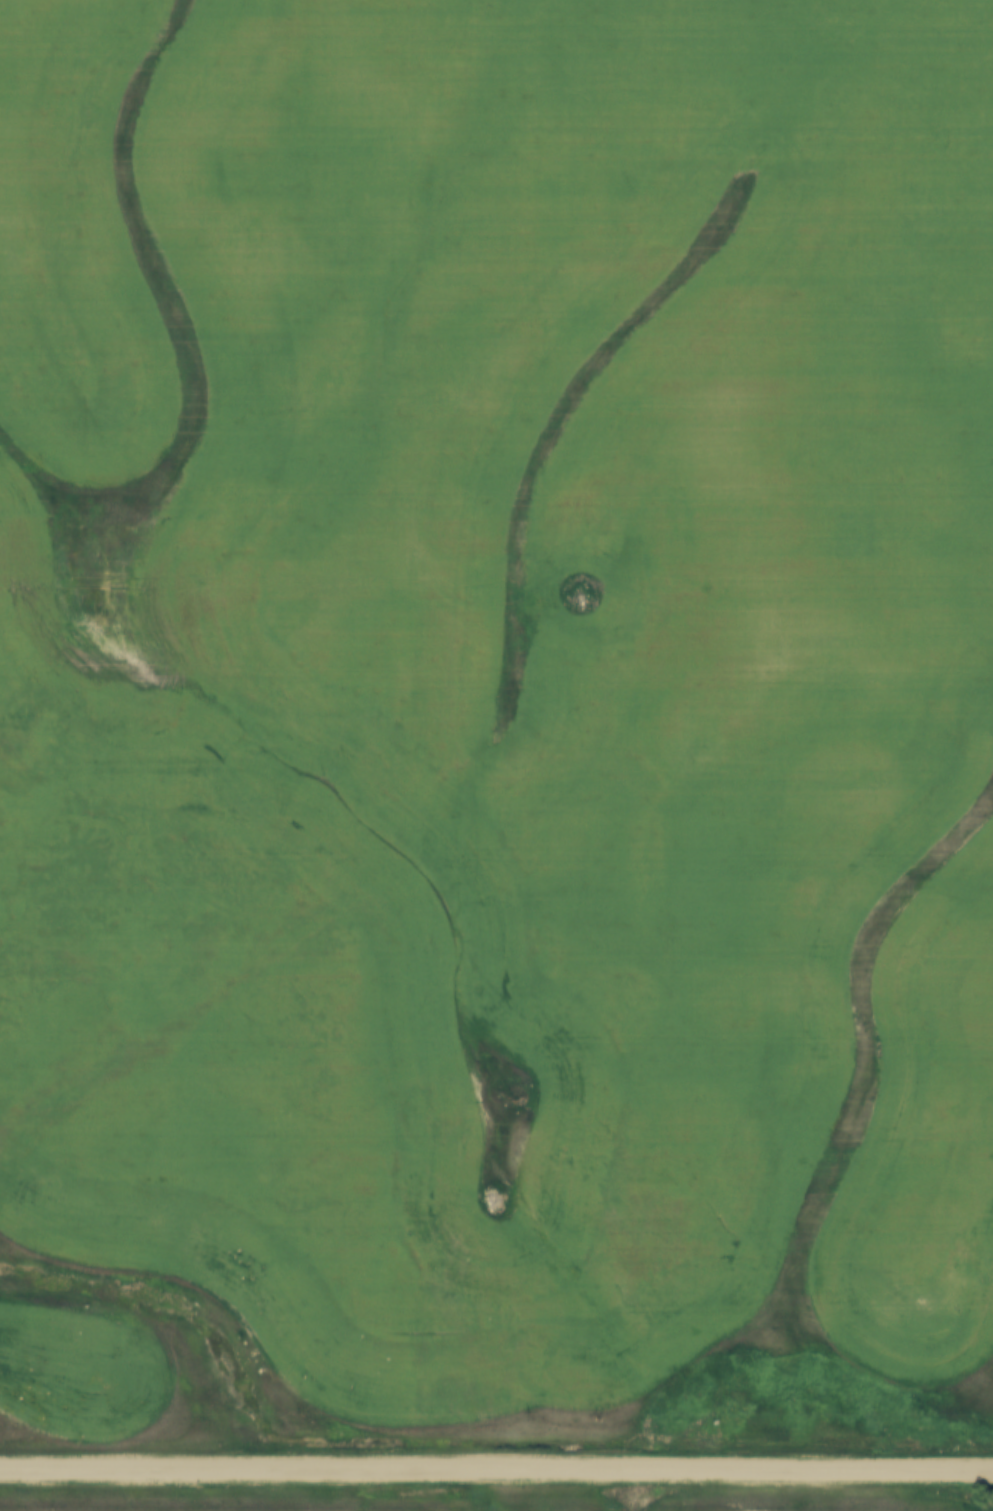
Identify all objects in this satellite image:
road: (496, 1473)

